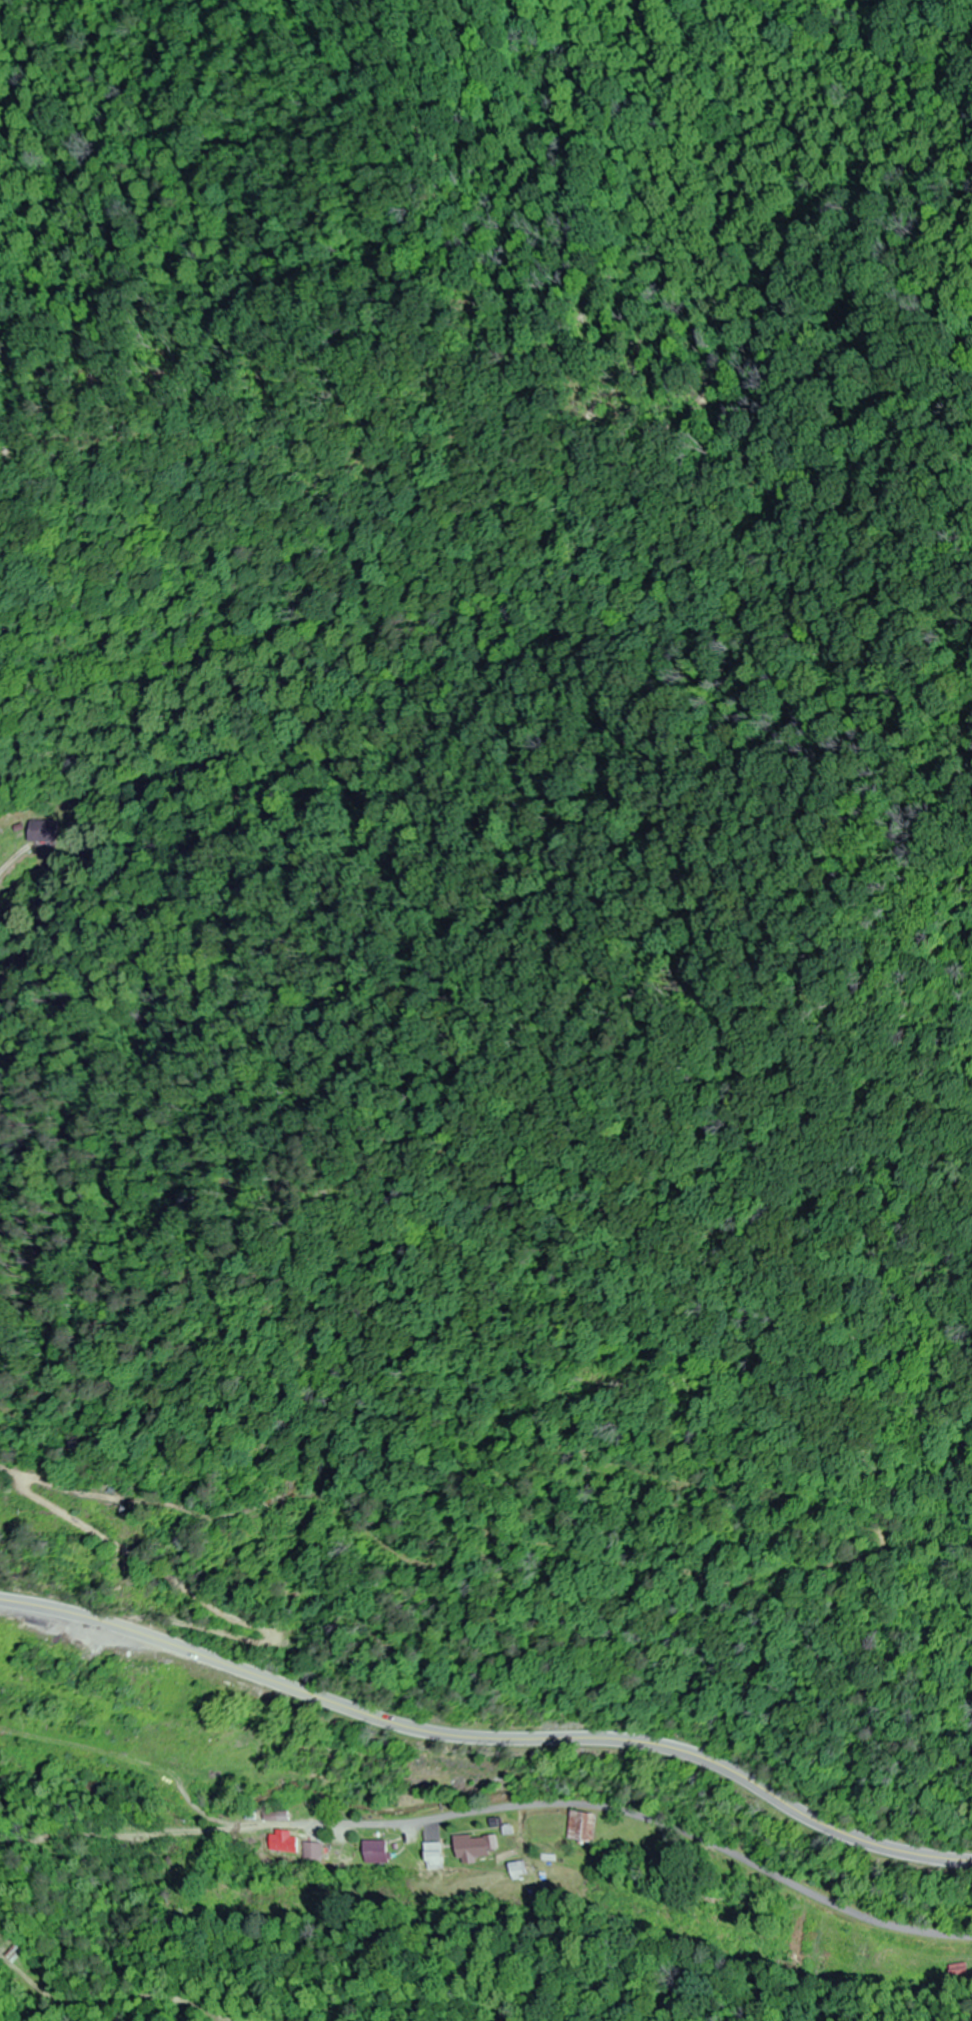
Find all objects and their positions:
building: (41, 831)
road: (488, 1738)
road: (651, 1817)
building: (286, 1846)
building: (479, 1848)
building: (317, 1851)
building: (435, 1856)
building: (523, 1871)

